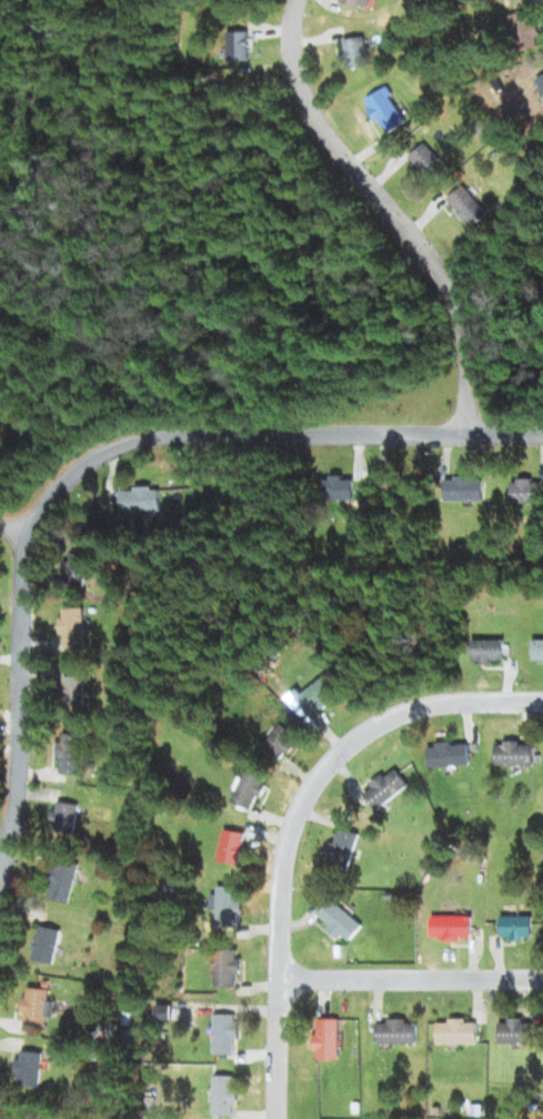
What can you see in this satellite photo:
building: (526, 31)
building: (243, 44)
building: (359, 51)
building: (541, 82)
building: (389, 111)
building: (429, 163)
building: (470, 206)
road: (390, 212)
road: (91, 460)
building: (342, 488)
building: (401, 490)
building: (466, 490)
building: (527, 491)
building: (142, 500)
road: (16, 531)
building: (78, 569)
building: (73, 628)
building: (490, 651)
building: (539, 651)
building: (73, 690)
building: (320, 696)
building: (282, 742)
building: (73, 754)
building: (448, 754)
building: (514, 754)
building: (386, 788)
building: (250, 790)
building: (67, 817)
road: (295, 823)
building: (235, 846)
building: (343, 849)
building: (64, 880)
building: (232, 906)
building: (342, 920)
building: (451, 927)
building: (515, 927)
building: (50, 945)
building: (231, 968)
road: (411, 979)
building: (39, 1007)
building: (396, 1031)
building: (457, 1031)
building: (516, 1031)
building: (228, 1035)
building: (328, 1039)
building: (31, 1068)
building: (224, 1096)

